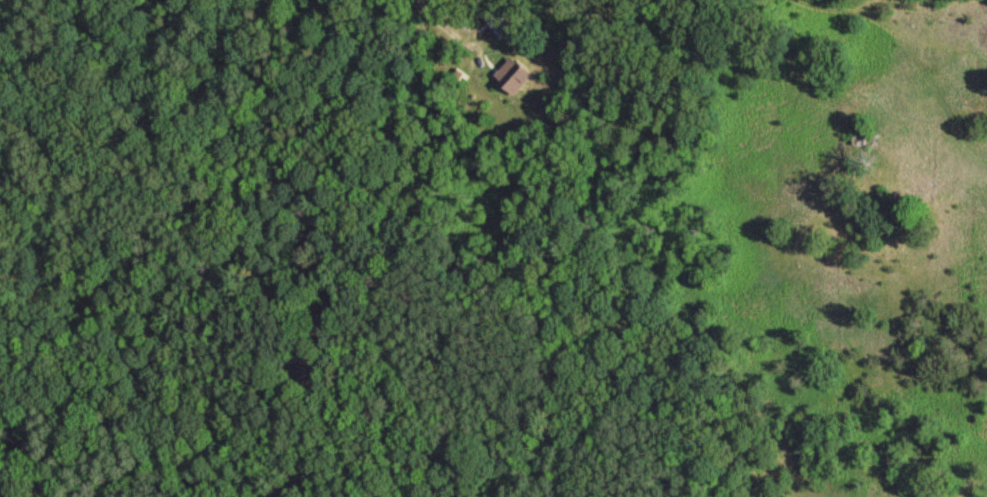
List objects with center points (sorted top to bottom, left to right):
building: (502, 19)
building: (525, 77)

